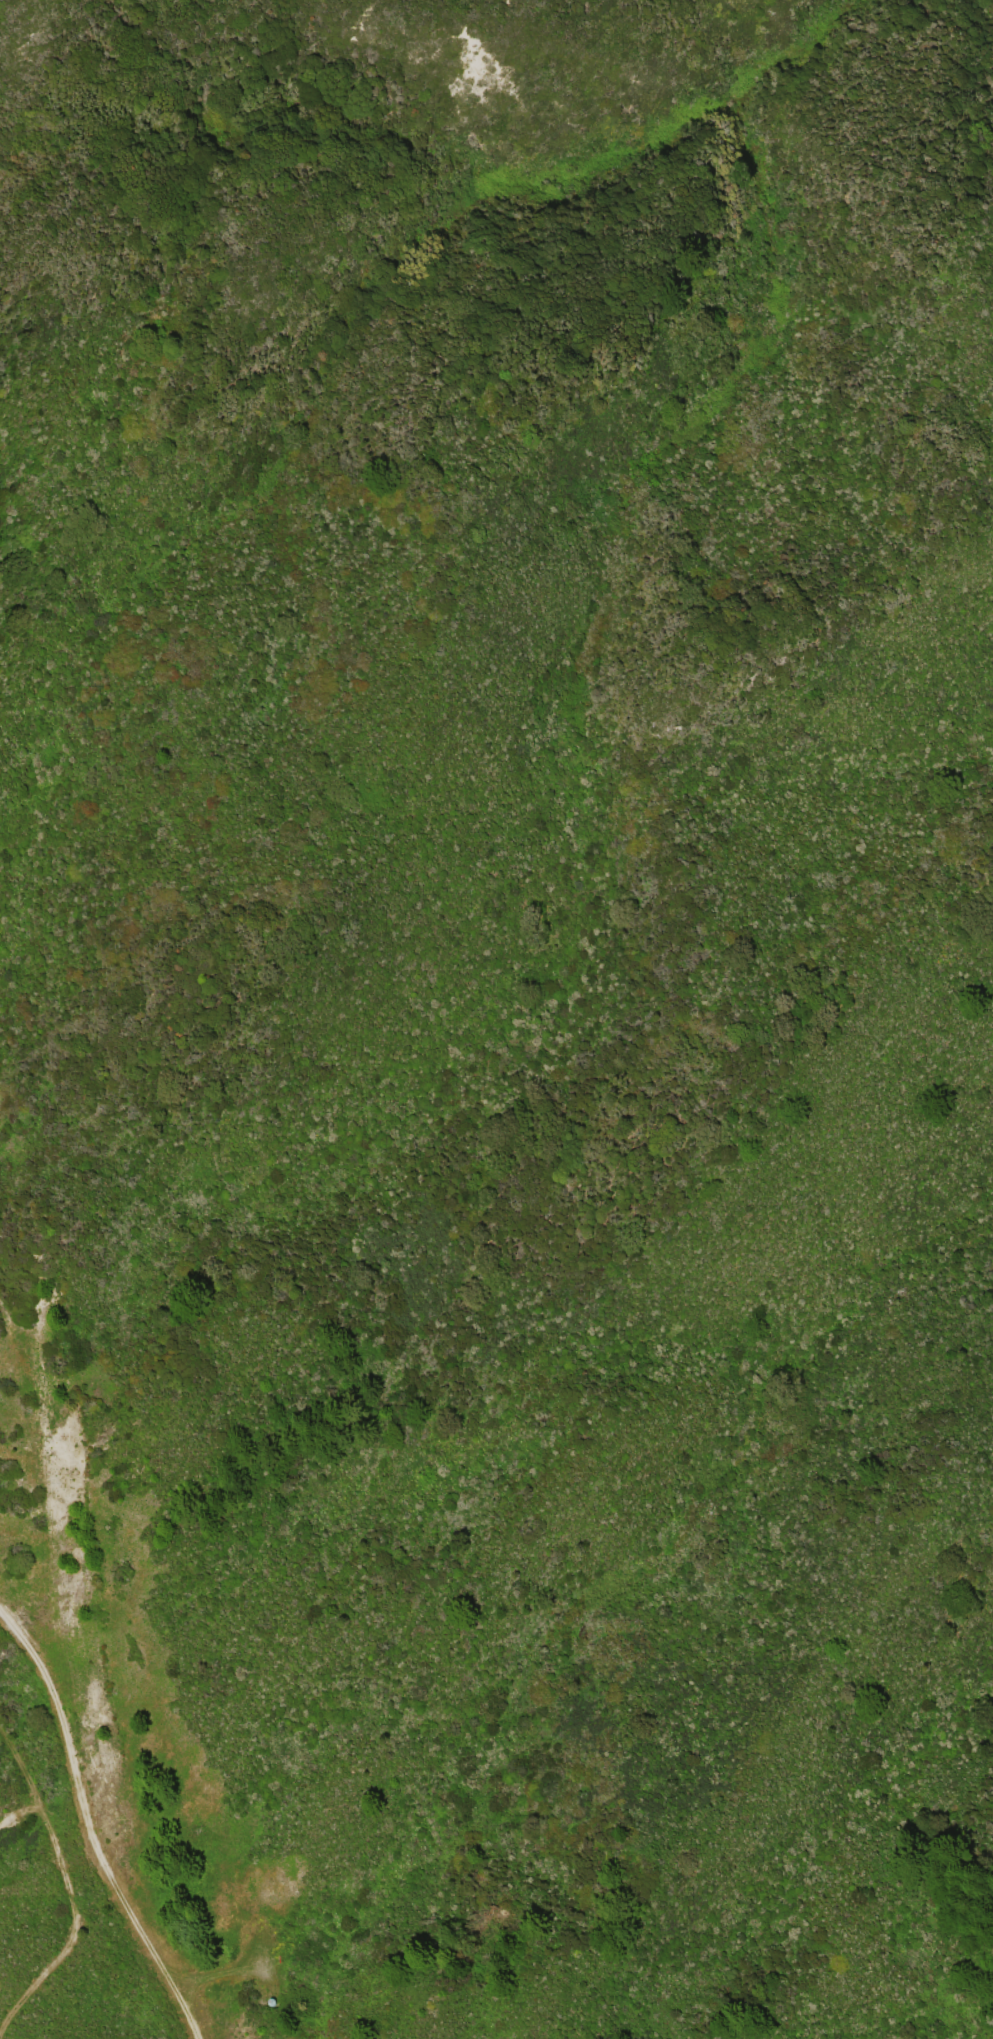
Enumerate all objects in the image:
road: (87, 1827)

